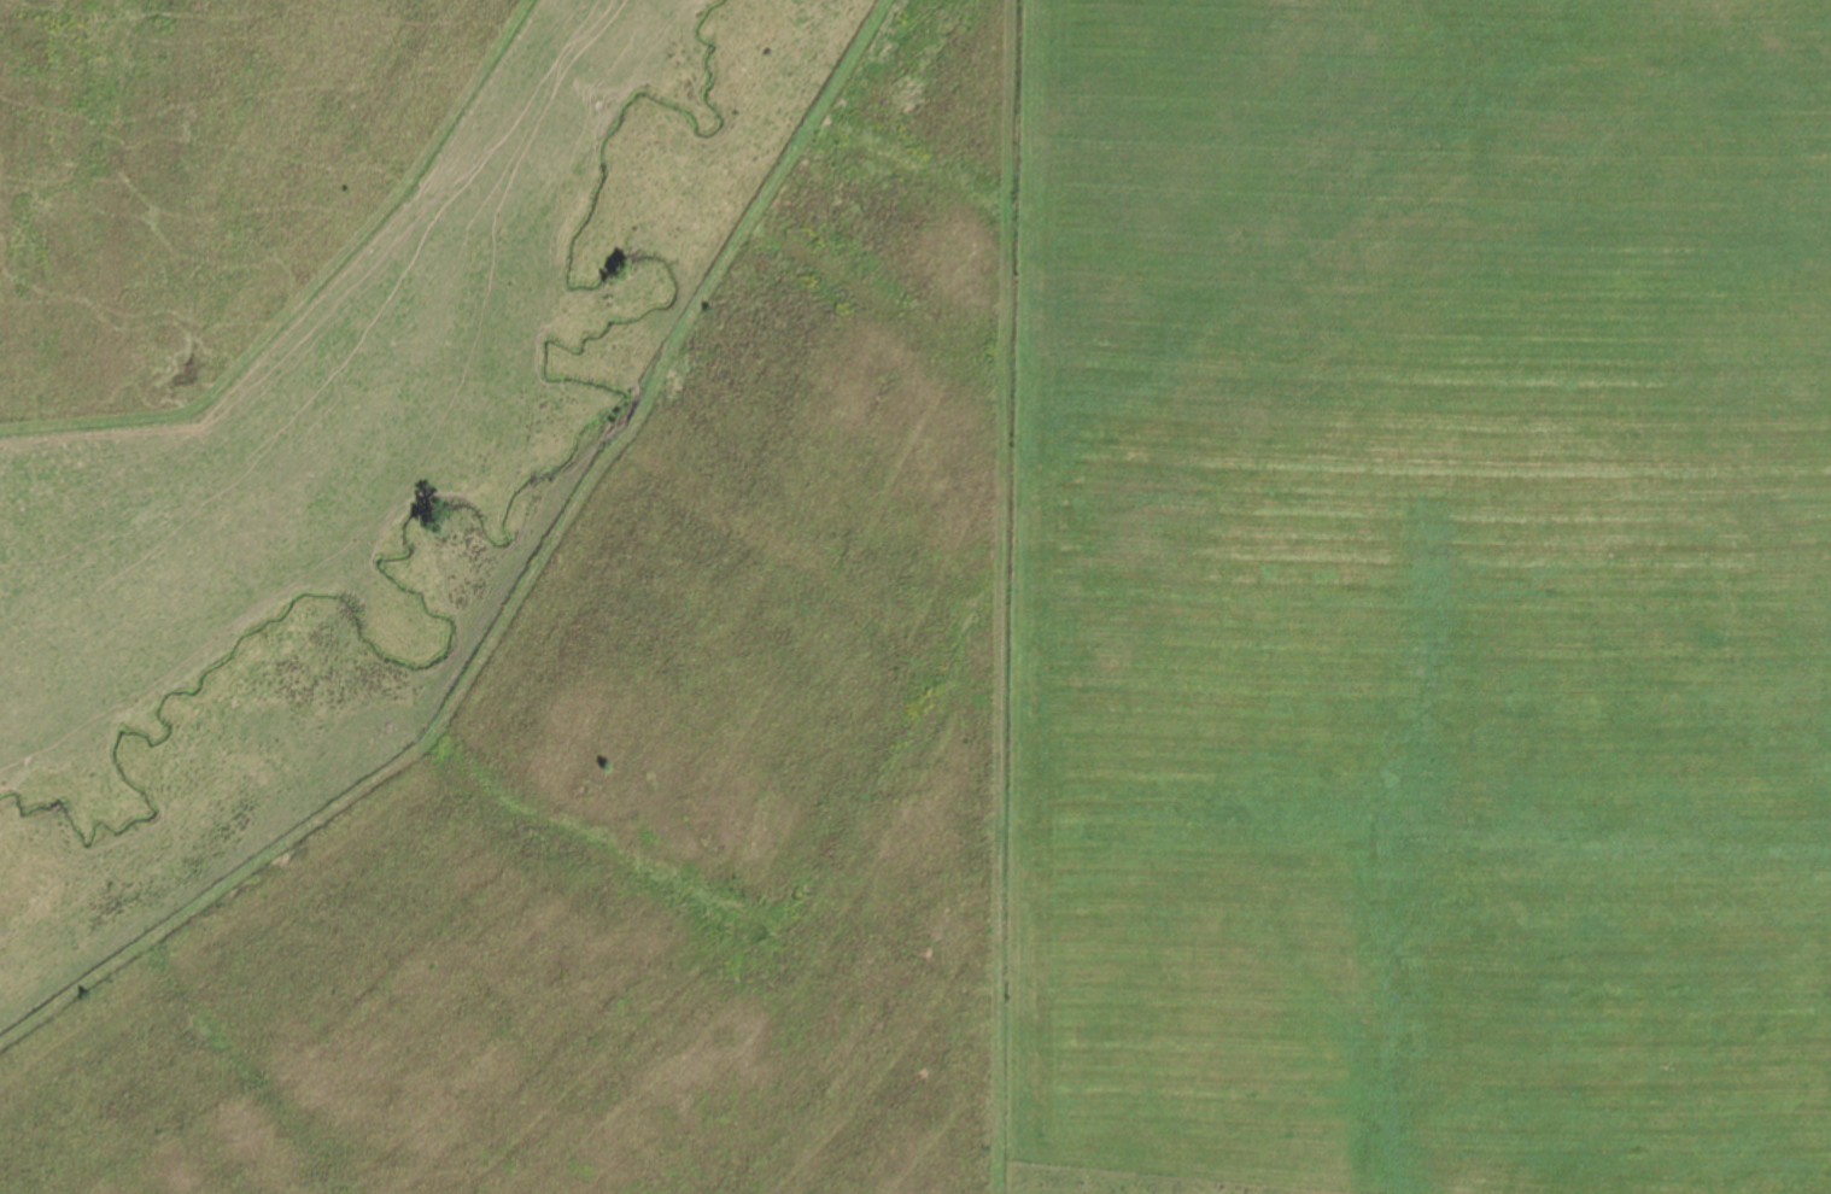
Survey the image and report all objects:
road: (323, 303)

